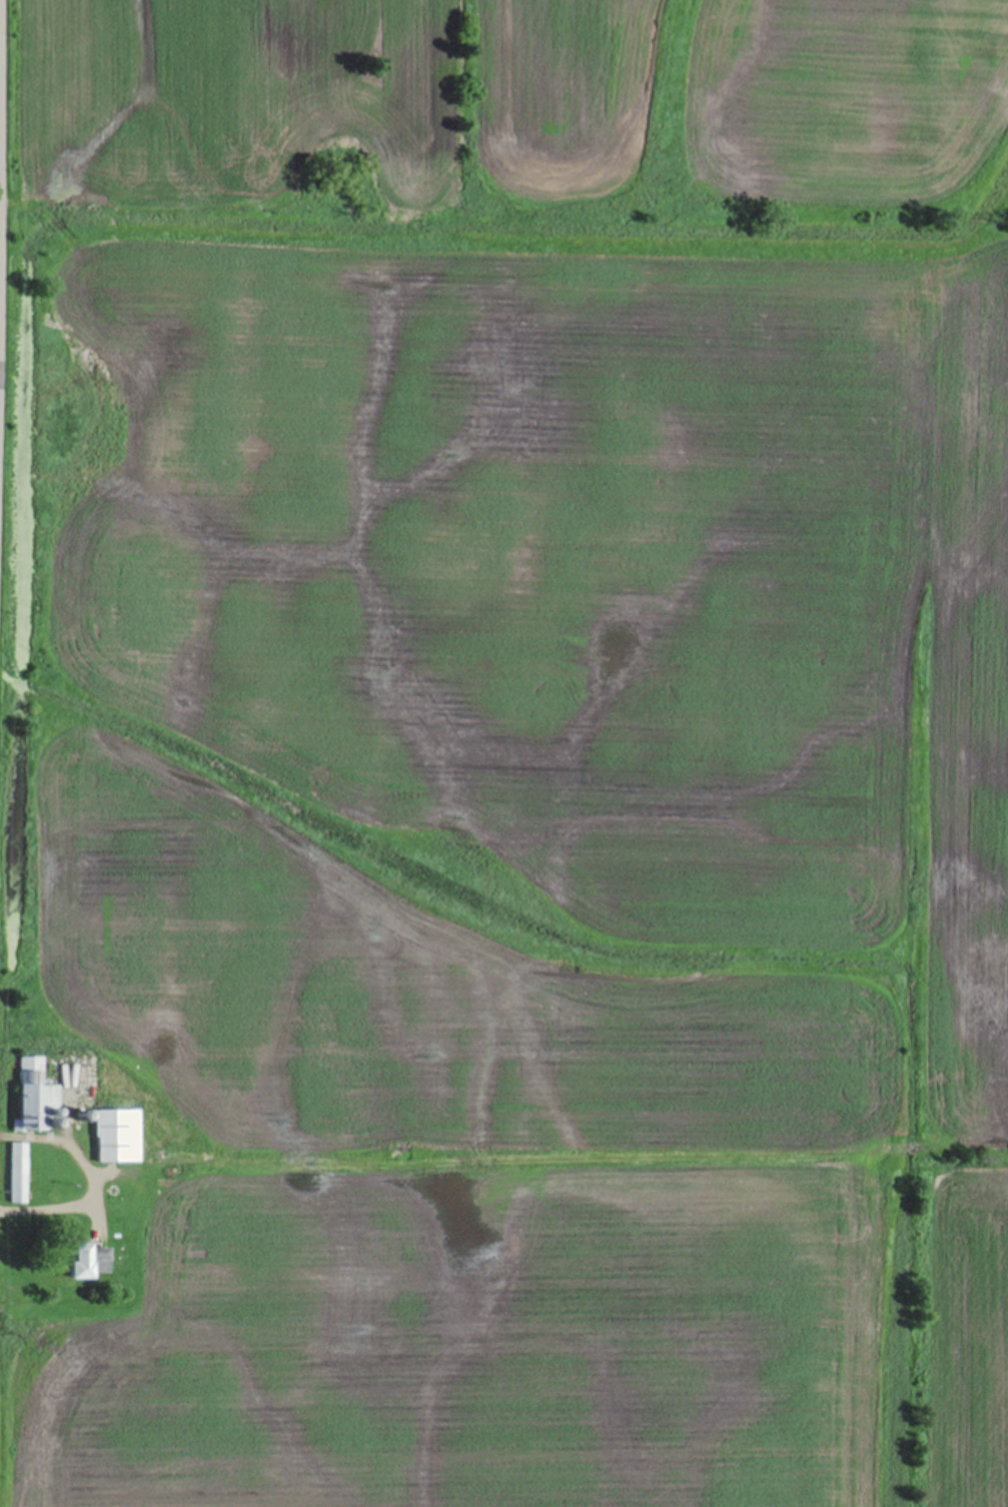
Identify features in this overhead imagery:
building: (37, 1098)
building: (118, 1137)
building: (19, 1173)
road: (89, 1173)
building: (89, 1262)

